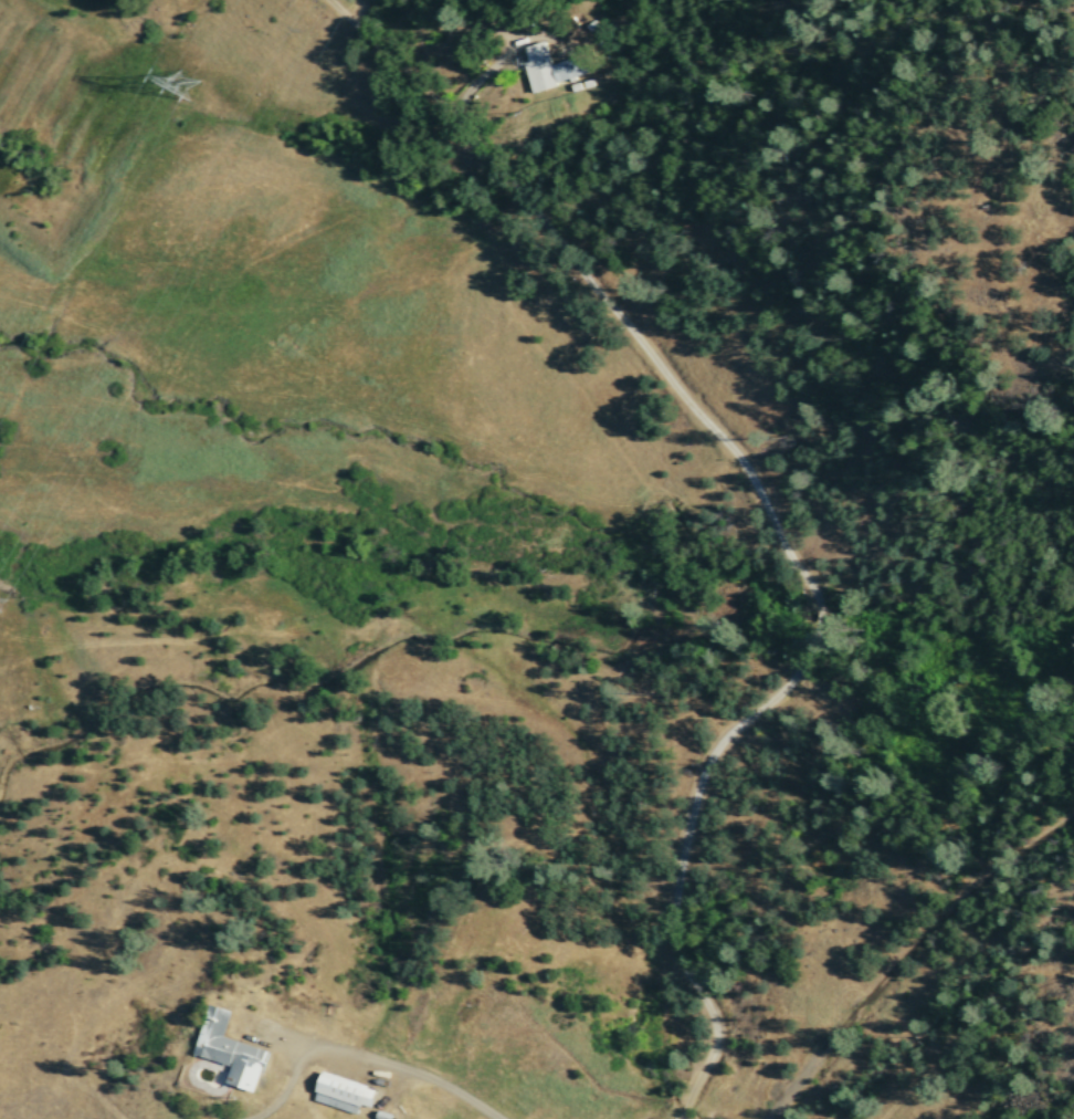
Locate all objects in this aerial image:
building: (550, 66)
power tower: (182, 104)
road: (769, 516)
power tower: (4, 609)
building: (229, 1052)
road: (292, 1073)
road: (427, 1076)
building: (343, 1094)

